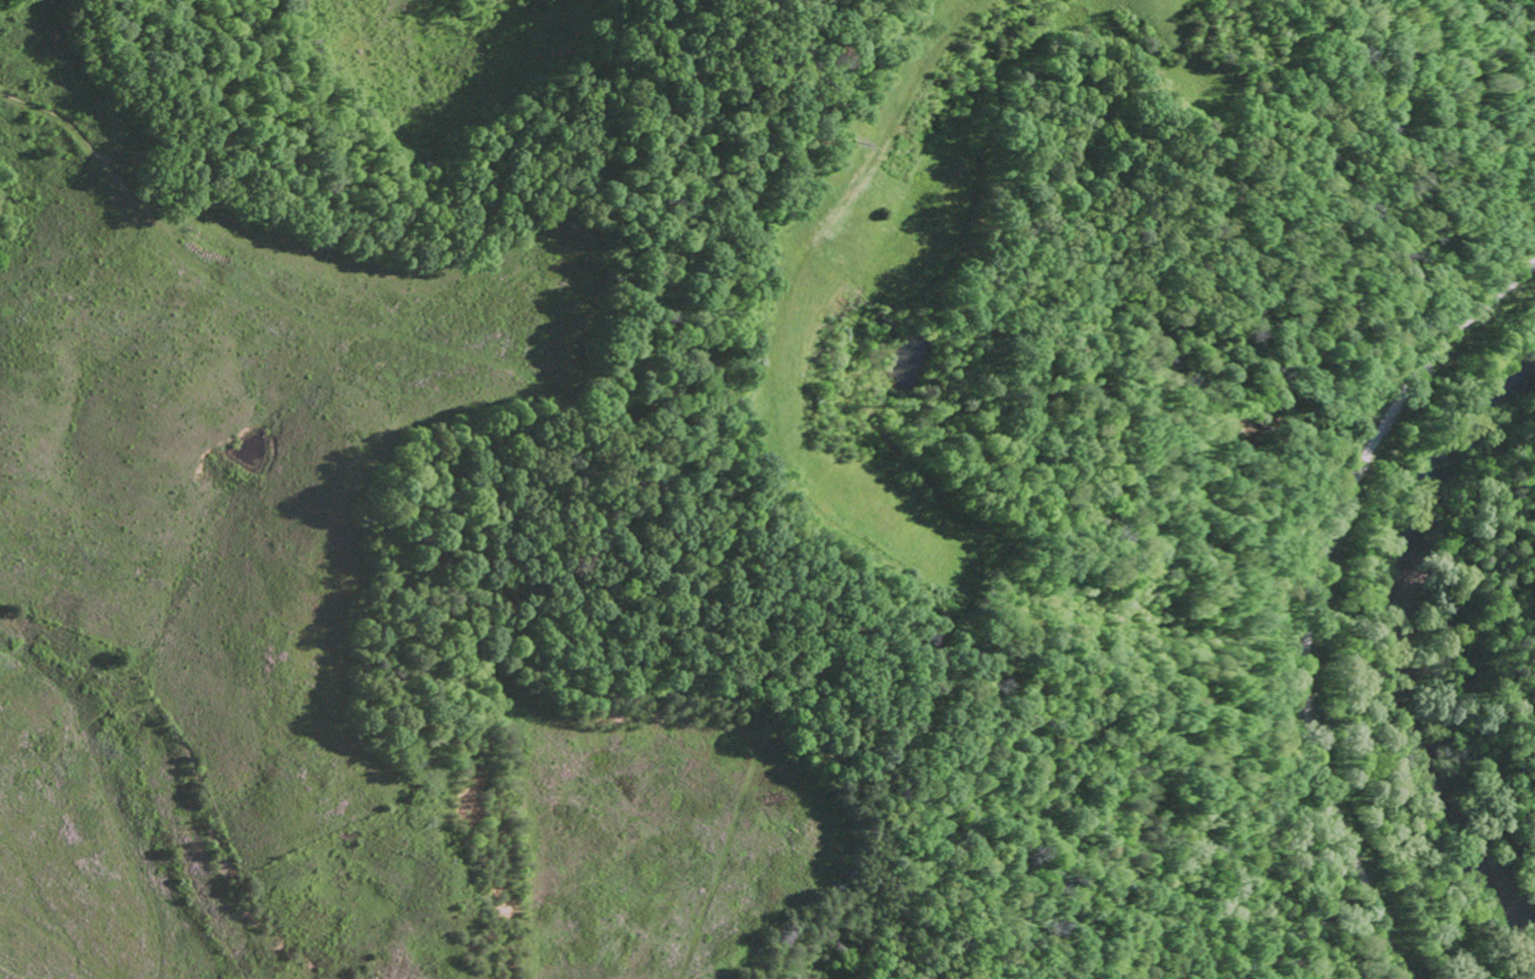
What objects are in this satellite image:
road: (1315, 591)

